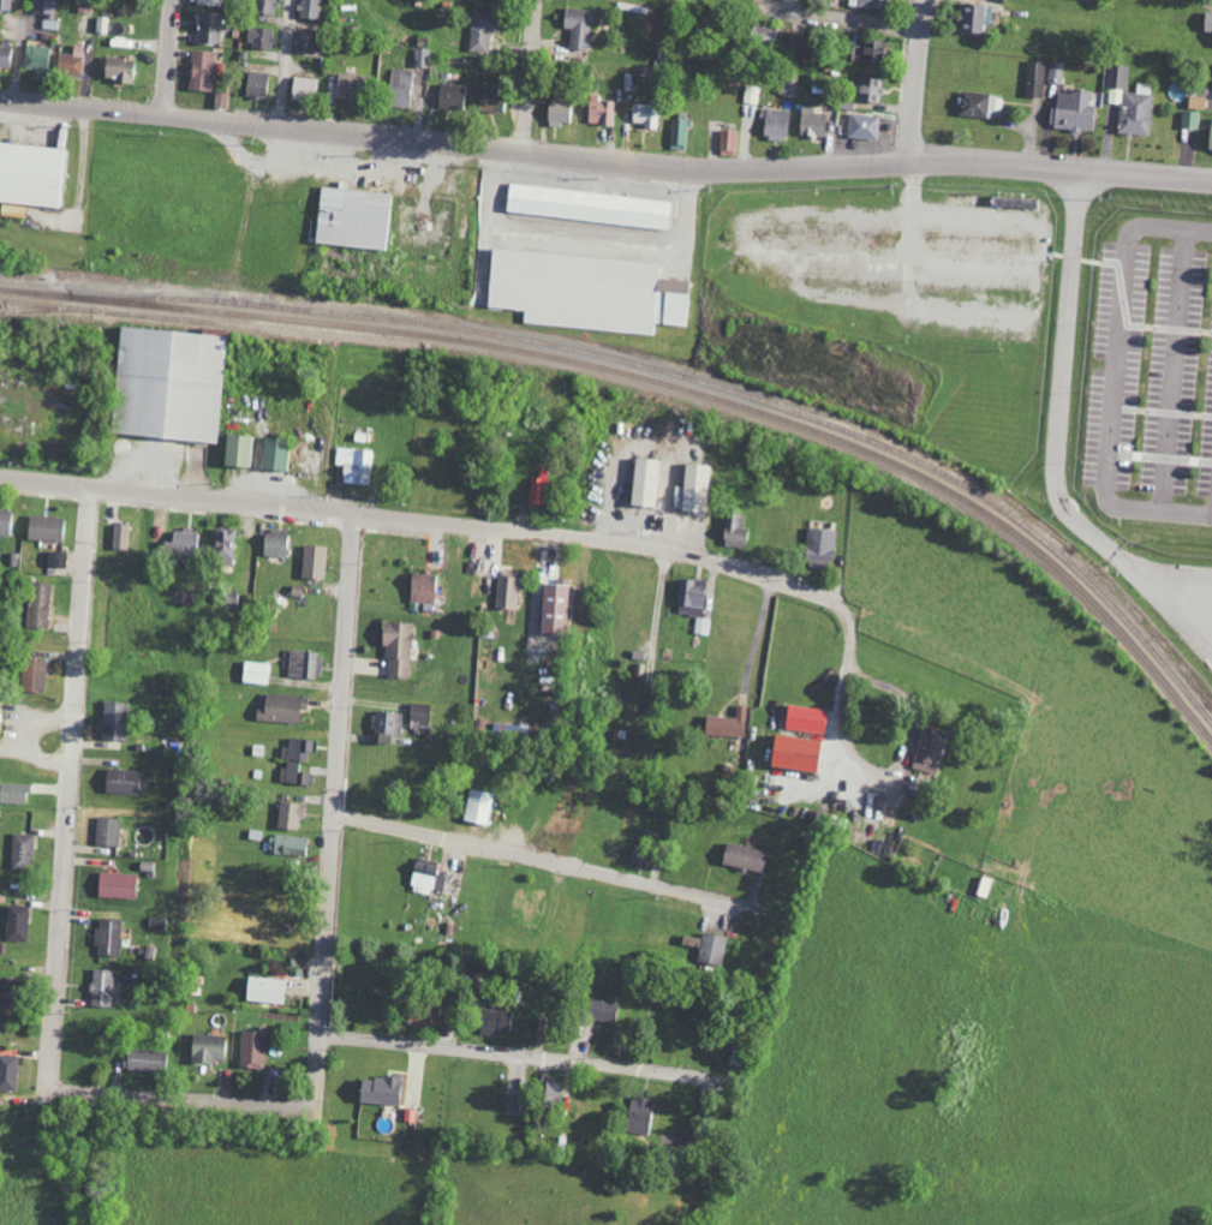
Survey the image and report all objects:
building: (209, 2)
building: (873, 4)
building: (5, 6)
building: (43, 7)
building: (264, 7)
building: (310, 10)
road: (846, 17)
building: (974, 18)
building: (1207, 23)
building: (207, 28)
building: (577, 28)
building: (482, 29)
building: (762, 34)
building: (259, 38)
building: (305, 43)
building: (798, 43)
building: (866, 52)
building: (5, 55)
road: (169, 58)
building: (34, 59)
building: (422, 59)
building: (70, 62)
road: (287, 64)
building: (119, 70)
building: (201, 71)
building: (1055, 73)
road: (533, 76)
building: (1034, 79)
road: (919, 80)
building: (255, 84)
building: (346, 85)
building: (304, 86)
building: (404, 86)
building: (867, 90)
building: (449, 97)
building: (489, 100)
building: (1129, 102)
building: (1196, 102)
building: (978, 106)
building: (599, 112)
building: (1073, 112)
building: (556, 114)
building: (641, 116)
building: (1189, 120)
building: (811, 122)
building: (774, 125)
building: (862, 126)
building: (679, 133)
building: (1210, 136)
building: (727, 142)
road: (604, 161)
building: (31, 174)
building: (587, 205)
building: (351, 216)
building: (584, 291)
railway: (41, 309)
railway: (208, 322)
parking lot: (1151, 372)
road: (1117, 377)
railway: (663, 382)
railway: (700, 382)
building: (166, 383)
building: (235, 449)
building: (273, 453)
building: (353, 465)
building: (644, 482)
building: (539, 486)
building: (693, 486)
road: (419, 519)
building: (5, 521)
building: (44, 527)
building: (733, 530)
building: (180, 542)
building: (273, 543)
building: (222, 546)
building: (818, 546)
building: (55, 560)
building: (312, 561)
road: (837, 578)
building: (244, 581)
building: (422, 587)
building: (506, 590)
building: (691, 597)
building: (37, 604)
building: (553, 608)
building: (701, 626)
building: (396, 649)
building: (304, 664)
building: (255, 673)
building: (32, 675)
road: (841, 700)
building: (280, 707)
building: (418, 713)
building: (804, 718)
building: (112, 721)
building: (726, 723)
building: (386, 724)
building: (299, 748)
building: (927, 749)
building: (793, 752)
road: (72, 771)
building: (294, 773)
building: (119, 781)
building: (13, 793)
road: (336, 806)
building: (477, 806)
building: (289, 814)
building: (106, 831)
building: (287, 844)
building: (20, 850)
building: (742, 856)
road: (538, 857)
building: (425, 876)
building: (114, 885)
building: (17, 922)
building: (107, 937)
building: (710, 949)
building: (100, 987)
building: (263, 990)
building: (601, 1010)
building: (422, 1015)
building: (494, 1021)
building: (207, 1047)
building: (251, 1050)
road: (490, 1051)
building: (143, 1059)
building: (7, 1071)
building: (377, 1089)
building: (549, 1090)
road: (171, 1096)
building: (512, 1102)
building: (638, 1115)

